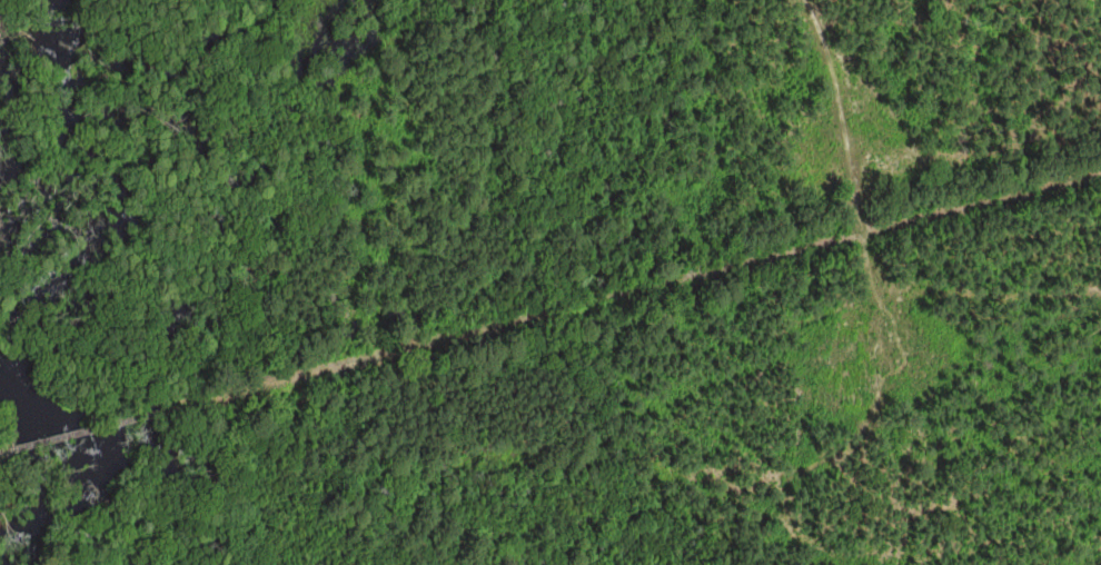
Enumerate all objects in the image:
river: (38, 41)
railway: (634, 289)
river: (27, 314)
railway: (91, 428)
railway: (7, 449)

